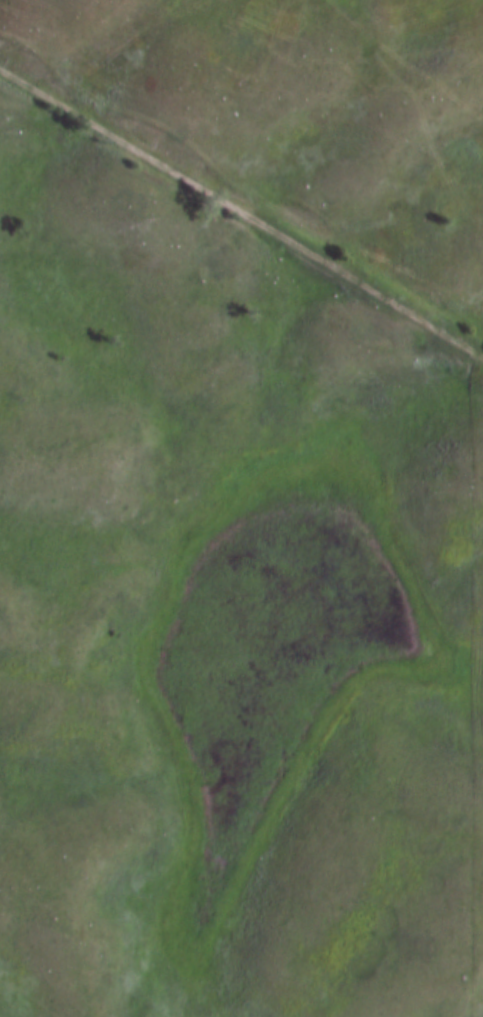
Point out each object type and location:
road: (241, 213)

